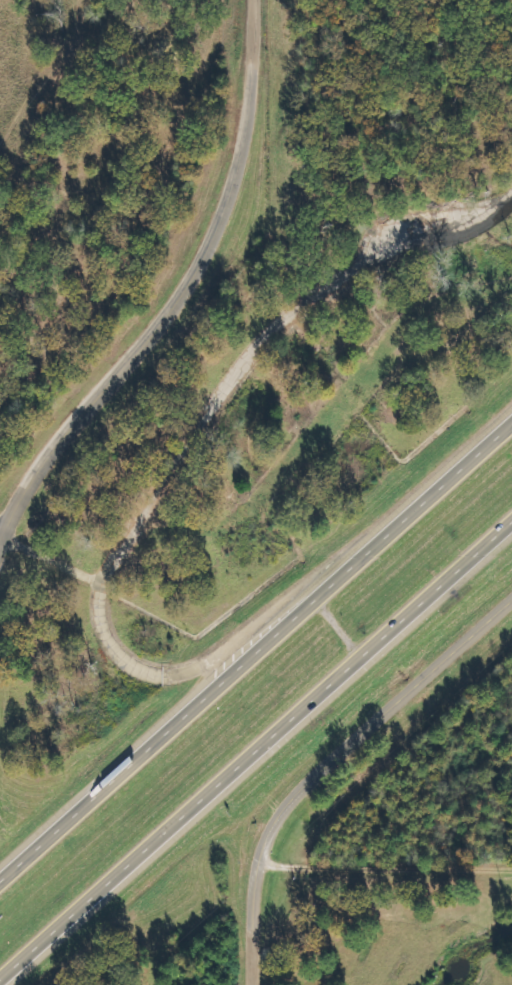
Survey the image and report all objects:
road: (188, 288)
road: (280, 336)
road: (4, 528)
road: (4, 539)
road: (337, 627)
road: (252, 648)
road: (161, 673)
road: (255, 754)
road: (331, 768)

